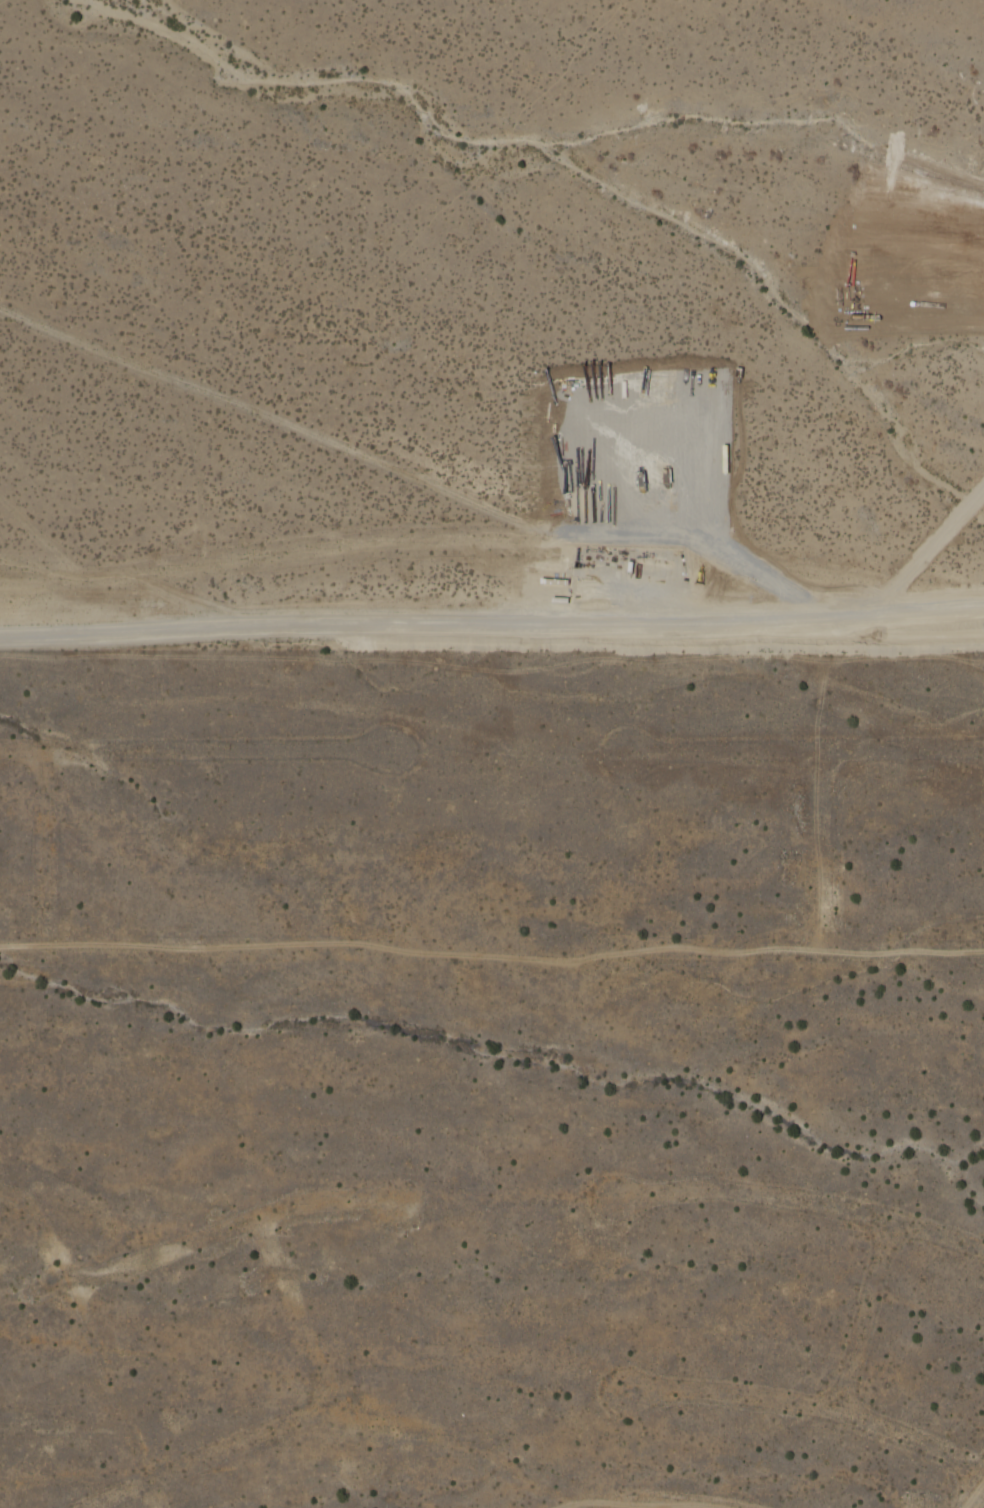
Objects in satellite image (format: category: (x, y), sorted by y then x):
road: (491, 622)

